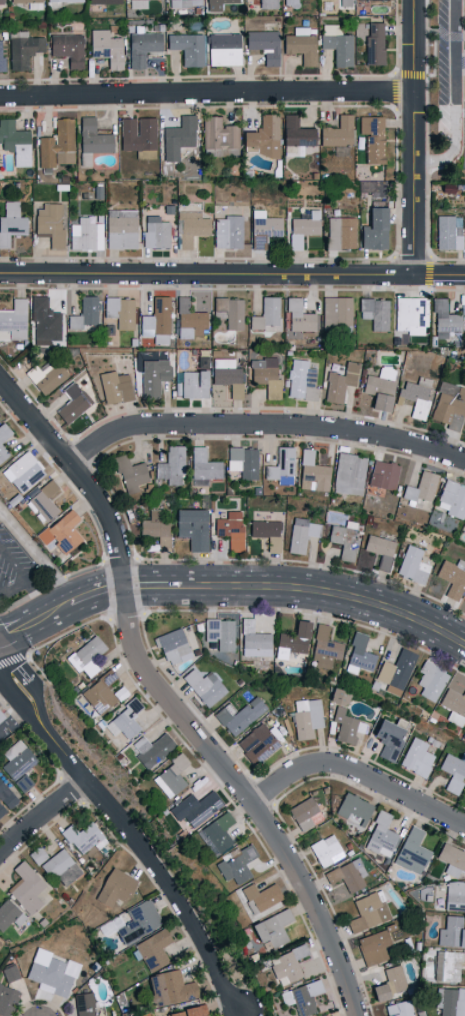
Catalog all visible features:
building: (63, 0)
building: (1, 1)
building: (103, 1)
building: (30, 3)
building: (183, 3)
building: (267, 3)
building: (291, 3)
building: (217, 4)
building: (373, 43)
building: (337, 44)
building: (142, 45)
building: (264, 45)
building: (300, 45)
building: (23, 48)
building: (106, 48)
building: (188, 48)
building: (67, 49)
building: (223, 49)
building: (2, 63)
road: (207, 94)
road: (456, 96)
building: (337, 132)
building: (138, 133)
building: (219, 134)
building: (269, 135)
building: (178, 136)
building: (296, 136)
road: (414, 136)
building: (372, 138)
building: (92, 140)
building: (249, 141)
building: (15, 142)
building: (58, 144)
building: (341, 150)
building: (11, 222)
building: (50, 224)
building: (191, 227)
building: (303, 227)
building: (264, 228)
building: (121, 229)
building: (375, 229)
building: (228, 231)
building: (449, 232)
building: (87, 233)
building: (156, 233)
building: (342, 233)
road: (232, 272)
building: (120, 311)
building: (230, 311)
building: (86, 312)
building: (375, 313)
building: (337, 314)
building: (267, 315)
building: (410, 315)
building: (299, 316)
building: (45, 319)
building: (157, 319)
building: (444, 319)
building: (13, 320)
building: (190, 320)
building: (46, 375)
building: (265, 376)
building: (153, 377)
building: (301, 380)
building: (340, 382)
building: (115, 387)
building: (379, 389)
building: (416, 396)
building: (72, 403)
building: (449, 405)
road: (264, 423)
building: (4, 440)
building: (243, 462)
building: (170, 465)
building: (203, 467)
building: (281, 467)
building: (24, 471)
building: (312, 473)
building: (130, 474)
building: (349, 474)
building: (383, 475)
building: (421, 488)
building: (451, 498)
building: (43, 501)
road: (1, 513)
building: (156, 527)
building: (192, 528)
building: (230, 529)
building: (61, 534)
building: (266, 534)
building: (301, 534)
building: (343, 542)
building: (380, 550)
road: (37, 555)
road: (13, 563)
building: (412, 565)
building: (452, 577)
road: (232, 585)
road: (16, 588)
road: (2, 592)
road: (38, 597)
building: (221, 633)
building: (253, 639)
building: (292, 639)
building: (173, 645)
building: (324, 647)
building: (359, 654)
building: (87, 655)
building: (396, 671)
road: (23, 672)
building: (430, 680)
building: (204, 686)
road: (14, 696)
building: (455, 698)
road: (168, 699)
building: (5, 712)
building: (239, 715)
building: (307, 716)
road: (18, 719)
building: (347, 725)
building: (388, 737)
building: (258, 742)
building: (152, 749)
building: (417, 757)
building: (18, 759)
road: (358, 770)
building: (171, 776)
building: (23, 782)
building: (6, 798)
building: (195, 807)
building: (354, 808)
building: (305, 813)
road: (43, 816)
building: (217, 833)
building: (381, 834)
building: (81, 836)
building: (326, 849)
building: (412, 851)
road: (145, 852)
building: (37, 854)
building: (451, 858)
building: (236, 865)
building: (60, 867)
building: (346, 878)
building: (26, 887)
building: (114, 887)
building: (454, 895)
building: (261, 896)
building: (368, 911)
building: (9, 914)
building: (139, 921)
building: (272, 927)
building: (451, 931)
building: (374, 946)
building: (154, 949)
building: (288, 964)
building: (448, 965)
building: (10, 972)
building: (53, 974)
building: (395, 978)
building: (170, 987)
building: (378, 991)
building: (302, 997)
building: (7, 1000)
building: (450, 1001)
building: (83, 1004)
building: (399, 1008)
building: (187, 1011)
road: (242, 1013)
building: (141, 1014)
building: (330, 1015)

